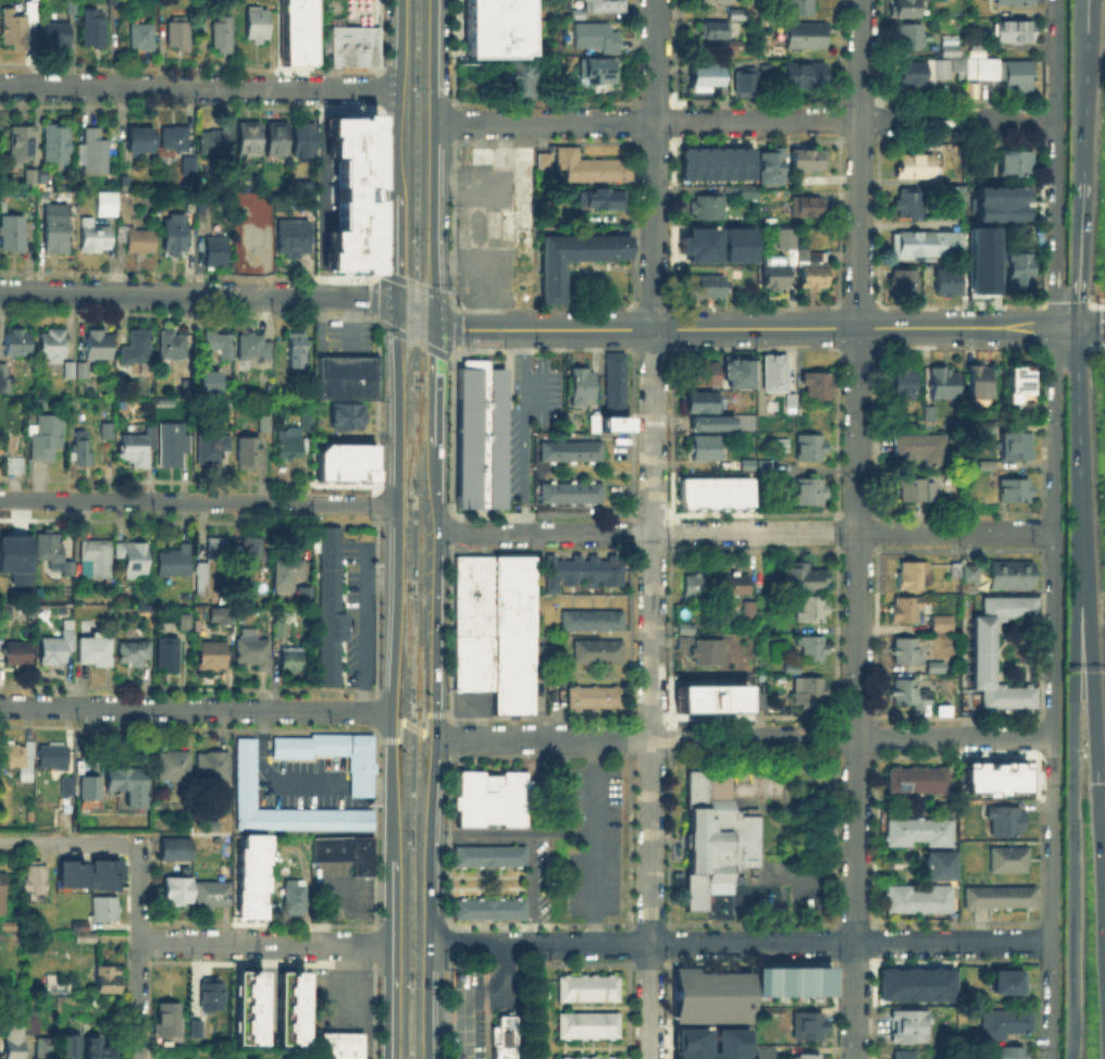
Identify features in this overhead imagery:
building: (109, 1)
building: (719, 1)
building: (113, 2)
building: (1016, 3)
building: (272, 4)
building: (908, 7)
building: (74, 8)
building: (600, 8)
building: (803, 8)
building: (734, 12)
building: (740, 15)
building: (257, 24)
building: (17, 27)
building: (494, 27)
building: (95, 30)
building: (299, 33)
building: (179, 34)
building: (1016, 34)
building: (58, 35)
building: (719, 35)
building: (223, 36)
building: (910, 36)
building: (806, 37)
building: (144, 38)
building: (597, 38)
building: (978, 47)
building: (357, 48)
building: (763, 68)
building: (599, 72)
building: (800, 72)
building: (985, 73)
building: (703, 74)
building: (917, 76)
building: (518, 79)
building: (742, 79)
road: (199, 87)
road: (1080, 91)
road: (1090, 91)
road: (397, 97)
road: (745, 121)
building: (216, 138)
building: (176, 139)
building: (249, 140)
building: (277, 140)
building: (303, 141)
building: (141, 142)
building: (23, 144)
building: (59, 145)
building: (95, 153)
building: (810, 158)
building: (542, 159)
road: (433, 160)
building: (715, 161)
building: (186, 163)
road: (1057, 163)
building: (1018, 164)
building: (592, 167)
building: (772, 169)
building: (990, 169)
building: (923, 170)
building: (30, 175)
building: (126, 178)
building: (351, 192)
building: (749, 194)
building: (958, 197)
building: (599, 200)
building: (104, 202)
building: (997, 202)
building: (911, 205)
building: (808, 207)
building: (708, 208)
building: (59, 231)
building: (177, 233)
building: (13, 234)
building: (96, 237)
building: (257, 237)
building: (294, 239)
building: (141, 241)
building: (698, 244)
building: (735, 244)
building: (929, 246)
road: (396, 250)
building: (218, 253)
road: (1080, 253)
building: (804, 258)
building: (980, 258)
building: (576, 259)
building: (1021, 272)
building: (777, 274)
building: (945, 281)
building: (905, 282)
building: (705, 289)
road: (198, 295)
traffic signals: (396, 308)
traffic signals: (435, 321)
road: (1081, 326)
road: (724, 328)
building: (20, 344)
building: (52, 344)
building: (173, 346)
building: (100, 347)
building: (225, 347)
building: (252, 347)
building: (138, 349)
building: (291, 349)
building: (70, 367)
building: (83, 369)
building: (740, 374)
building: (777, 374)
building: (706, 375)
building: (5, 379)
building: (201, 379)
building: (349, 381)
road: (435, 382)
building: (902, 384)
building: (944, 384)
building: (979, 384)
building: (617, 385)
building: (1021, 386)
building: (583, 388)
building: (818, 388)
building: (183, 389)
building: (705, 403)
building: (791, 403)
building: (930, 414)
building: (349, 418)
building: (612, 423)
building: (712, 424)
building: (266, 425)
building: (595, 425)
road: (1079, 425)
road: (522, 431)
building: (108, 432)
railway: (412, 436)
building: (49, 437)
building: (482, 437)
building: (152, 438)
building: (294, 438)
building: (1010, 444)
building: (175, 445)
building: (135, 447)
building: (213, 447)
building: (83, 449)
building: (706, 449)
building: (810, 449)
building: (923, 449)
building: (572, 452)
building: (249, 454)
building: (344, 461)
building: (747, 463)
building: (981, 463)
building: (16, 466)
building: (712, 491)
building: (811, 491)
building: (914, 491)
building: (1015, 491)
building: (572, 494)
road: (199, 502)
railway: (407, 528)
railway: (419, 528)
road: (858, 528)
road: (653, 529)
road: (744, 532)
building: (11, 548)
building: (218, 550)
building: (257, 550)
building: (54, 553)
building: (134, 558)
building: (97, 560)
building: (176, 562)
building: (957, 571)
building: (968, 572)
building: (583, 573)
building: (1008, 573)
building: (289, 575)
building: (912, 576)
building: (203, 580)
building: (805, 581)
road: (398, 583)
building: (738, 585)
building: (697, 587)
building: (306, 597)
building: (334, 608)
building: (907, 610)
building: (750, 611)
building: (812, 611)
building: (7, 612)
building: (221, 615)
building: (594, 622)
building: (186, 623)
building: (943, 624)
building: (281, 630)
road: (1048, 633)
railway: (411, 645)
building: (59, 647)
building: (703, 647)
building: (812, 649)
building: (543, 651)
building: (96, 652)
building: (907, 652)
building: (253, 653)
building: (600, 653)
building: (985, 653)
building: (20, 655)
building: (134, 655)
building: (169, 655)
building: (212, 657)
building: (290, 661)
building: (933, 665)
building: (793, 670)
building: (493, 672)
building: (810, 695)
building: (914, 695)
building: (709, 697)
building: (597, 699)
building: (763, 703)
building: (470, 706)
parking lot: (546, 706)
road: (196, 709)
road: (412, 725)
road: (742, 737)
road: (434, 751)
building: (335, 757)
building: (54, 758)
building: (17, 761)
road: (1095, 763)
building: (174, 768)
building: (213, 768)
building: (994, 775)
building: (249, 776)
road: (272, 777)
building: (920, 783)
traffic signals: (1096, 783)
building: (127, 788)
building: (67, 789)
building: (91, 789)
road: (1072, 792)
building: (495, 801)
building: (1006, 822)
building: (917, 830)
road: (533, 840)
road: (592, 840)
building: (719, 840)
road: (65, 842)
building: (177, 851)
building: (348, 854)
building: (491, 858)
building: (1009, 860)
building: (938, 863)
building: (89, 872)
building: (249, 874)
building: (36, 879)
building: (179, 892)
building: (3, 895)
building: (214, 895)
building: (916, 897)
building: (296, 899)
building: (1002, 899)
building: (105, 910)
building: (491, 910)
building: (76, 923)
building: (84, 933)
road: (264, 942)
road: (738, 942)
road: (138, 950)
road: (392, 958)
road: (500, 963)
building: (791, 980)
building: (109, 981)
building: (916, 983)
building: (1013, 983)
road: (346, 985)
road: (265, 989)
building: (589, 989)
building: (209, 992)
building: (709, 996)
road: (1050, 999)
road: (373, 1001)
building: (247, 1006)
building: (288, 1007)
building: (165, 1018)
road: (461, 1019)
building: (34, 1025)
building: (1007, 1025)
building: (194, 1026)
building: (589, 1027)
building: (808, 1027)
building: (909, 1027)
road: (464, 1038)
building: (504, 1038)
building: (687, 1041)
building: (15, 1044)
building: (67, 1045)
building: (339, 1046)
building: (99, 1048)
building: (47, 1049)
park: (221, 1051)
building: (1001, 1051)
building: (762, 1052)
building: (906, 1056)
building: (599, 1058)
building: (807, 1058)

